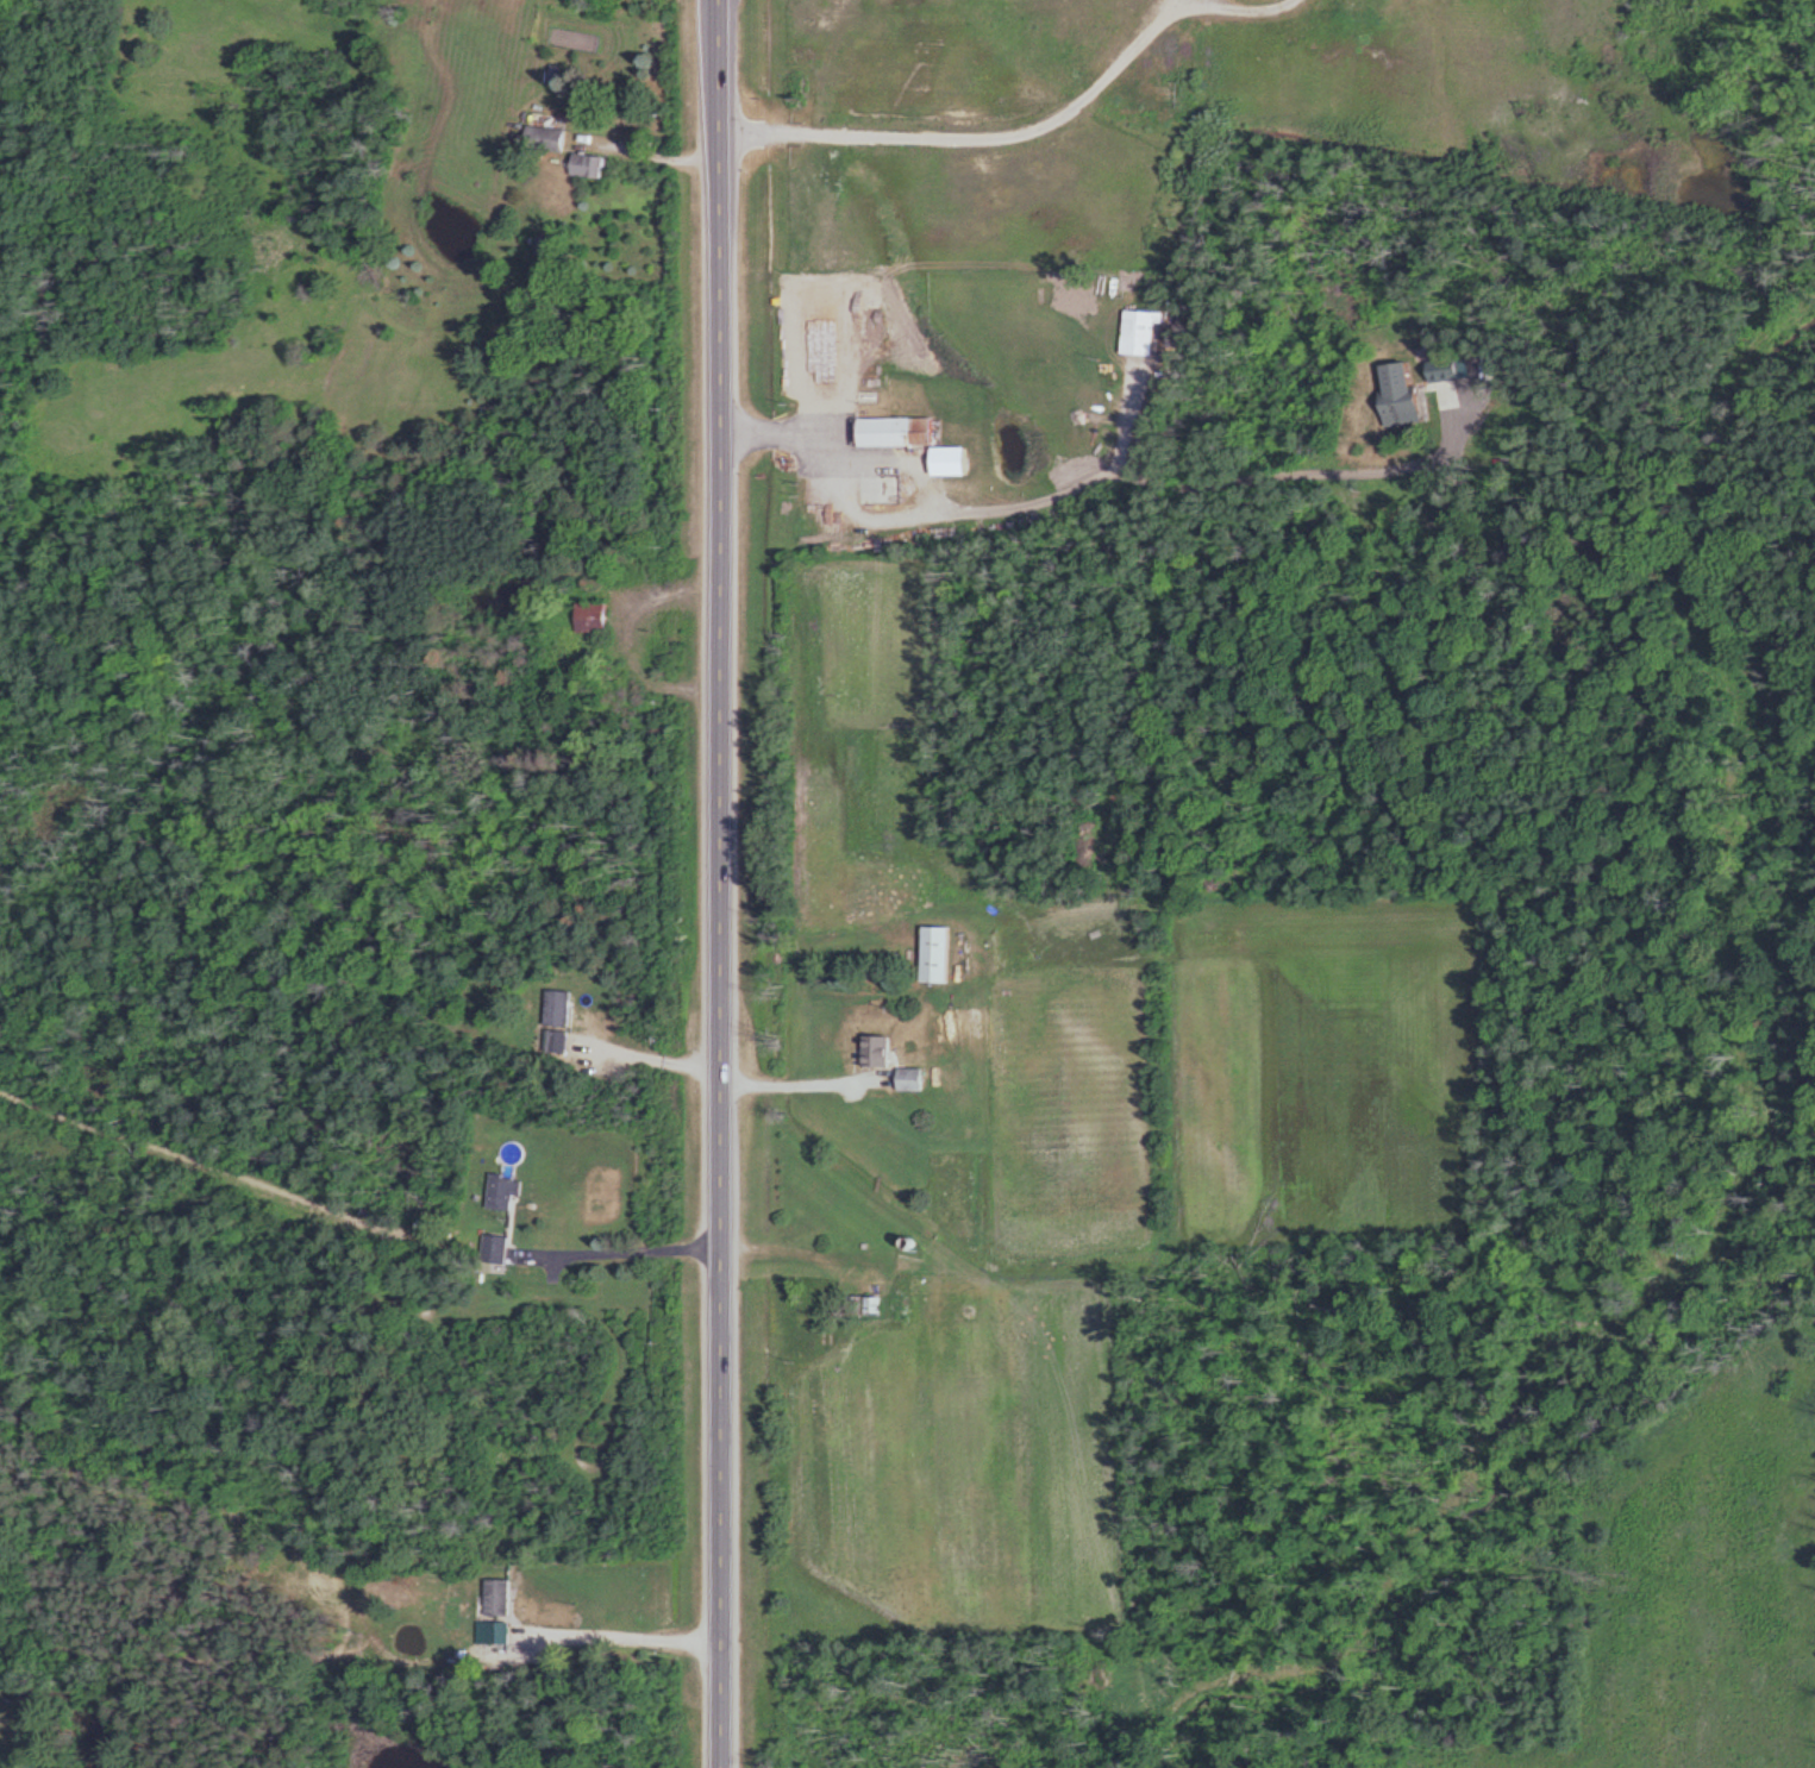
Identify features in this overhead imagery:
building: (1185, 51)
building: (543, 138)
building: (586, 165)
building: (1137, 332)
building: (1445, 369)
building: (1394, 394)
building: (891, 432)
building: (947, 462)
building: (589, 616)
road: (719, 884)
building: (933, 954)
building: (556, 1021)
building: (872, 1052)
building: (907, 1079)
building: (501, 1192)
building: (493, 1249)
road: (615, 1250)
building: (860, 1305)
building: (495, 1595)
building: (495, 1631)

